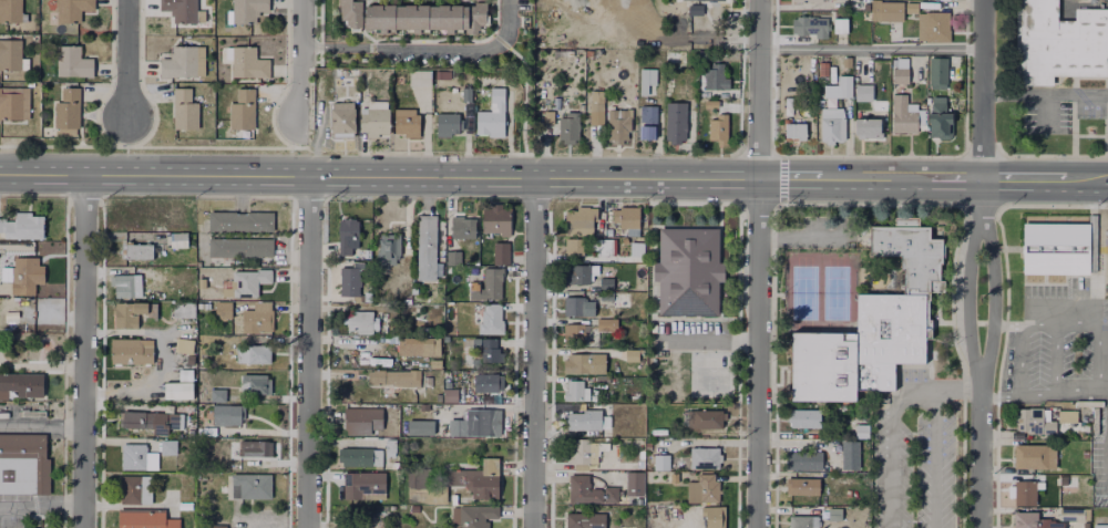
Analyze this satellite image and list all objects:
building: (942, 0)
building: (706, 1)
building: (808, 1)
building: (73, 9)
building: (248, 9)
building: (890, 9)
building: (179, 10)
building: (696, 10)
building: (351, 11)
building: (11, 12)
building: (424, 15)
building: (932, 23)
building: (808, 25)
building: (839, 28)
building: (1061, 42)
road: (317, 48)
road: (871, 49)
road: (442, 50)
building: (10, 55)
building: (671, 56)
building: (712, 58)
road: (129, 59)
road: (304, 60)
building: (73, 63)
building: (248, 63)
building: (845, 63)
building: (181, 64)
building: (906, 69)
building: (822, 70)
building: (347, 71)
building: (382, 75)
building: (937, 75)
building: (862, 77)
building: (420, 81)
building: (647, 82)
building: (716, 83)
building: (828, 89)
road: (1002, 94)
road: (1065, 94)
building: (466, 96)
building: (14, 105)
road: (982, 106)
building: (68, 110)
building: (185, 111)
building: (243, 112)
road: (1045, 112)
building: (901, 113)
building: (648, 114)
building: (596, 115)
building: (493, 116)
building: (373, 120)
building: (548, 120)
building: (404, 121)
building: (343, 122)
building: (831, 123)
building: (940, 123)
building: (448, 125)
building: (866, 126)
building: (620, 128)
building: (570, 130)
building: (676, 130)
building: (719, 130)
building: (792, 131)
building: (649, 136)
road: (491, 175)
road: (1029, 179)
road: (1092, 180)
building: (577, 215)
building: (625, 215)
building: (496, 217)
building: (242, 219)
building: (463, 225)
building: (25, 226)
building: (1107, 236)
road: (799, 237)
building: (178, 238)
building: (350, 238)
building: (242, 245)
building: (427, 245)
building: (573, 245)
building: (389, 246)
building: (603, 246)
building: (1058, 248)
building: (138, 249)
building: (501, 250)
building: (454, 255)
road: (758, 263)
building: (577, 271)
building: (29, 272)
building: (687, 272)
building: (350, 278)
building: (249, 280)
building: (605, 282)
building: (124, 283)
building: (488, 283)
building: (185, 286)
building: (206, 290)
park: (803, 292)
park: (834, 292)
road: (966, 294)
road: (993, 294)
building: (618, 300)
building: (576, 304)
building: (381, 306)
building: (452, 308)
building: (184, 309)
building: (224, 309)
building: (13, 312)
building: (129, 313)
building: (258, 317)
building: (492, 318)
building: (361, 320)
building: (871, 320)
building: (613, 322)
road: (1002, 325)
road: (1061, 325)
building: (572, 332)
parking lot: (689, 334)
road: (708, 337)
road: (1099, 339)
building: (183, 344)
building: (416, 345)
building: (491, 348)
road: (83, 350)
building: (132, 351)
road: (310, 351)
building: (254, 352)
road: (534, 352)
building: (630, 354)
building: (202, 360)
road: (1055, 360)
building: (583, 361)
road: (1018, 361)
building: (186, 374)
building: (393, 375)
building: (601, 377)
building: (488, 379)
park: (711, 379)
building: (23, 381)
building: (256, 382)
building: (202, 384)
building: (574, 390)
road: (952, 390)
building: (218, 392)
road: (913, 396)
road: (994, 398)
building: (228, 413)
building: (704, 416)
building: (1042, 416)
building: (801, 417)
building: (144, 418)
building: (362, 418)
building: (576, 418)
building: (475, 421)
road: (41, 426)
building: (419, 427)
building: (234, 428)
building: (860, 428)
building: (170, 444)
building: (390, 444)
building: (256, 446)
building: (584, 449)
road: (979, 451)
building: (847, 453)
building: (134, 454)
building: (360, 455)
building: (702, 456)
building: (1034, 456)
building: (1074, 456)
building: (801, 458)
building: (658, 459)
building: (23, 464)
parking lot: (913, 467)
building: (456, 475)
building: (488, 478)
building: (633, 480)
building: (252, 483)
building: (365, 483)
building: (799, 484)
building: (136, 485)
building: (424, 485)
building: (700, 487)
building: (587, 488)
building: (1025, 494)
road: (41, 507)
building: (832, 513)
building: (1069, 513)
building: (473, 515)
building: (710, 515)
building: (144, 519)
building: (582, 520)
building: (801, 520)
building: (1034, 520)
building: (1101, 522)
building: (217, 524)

